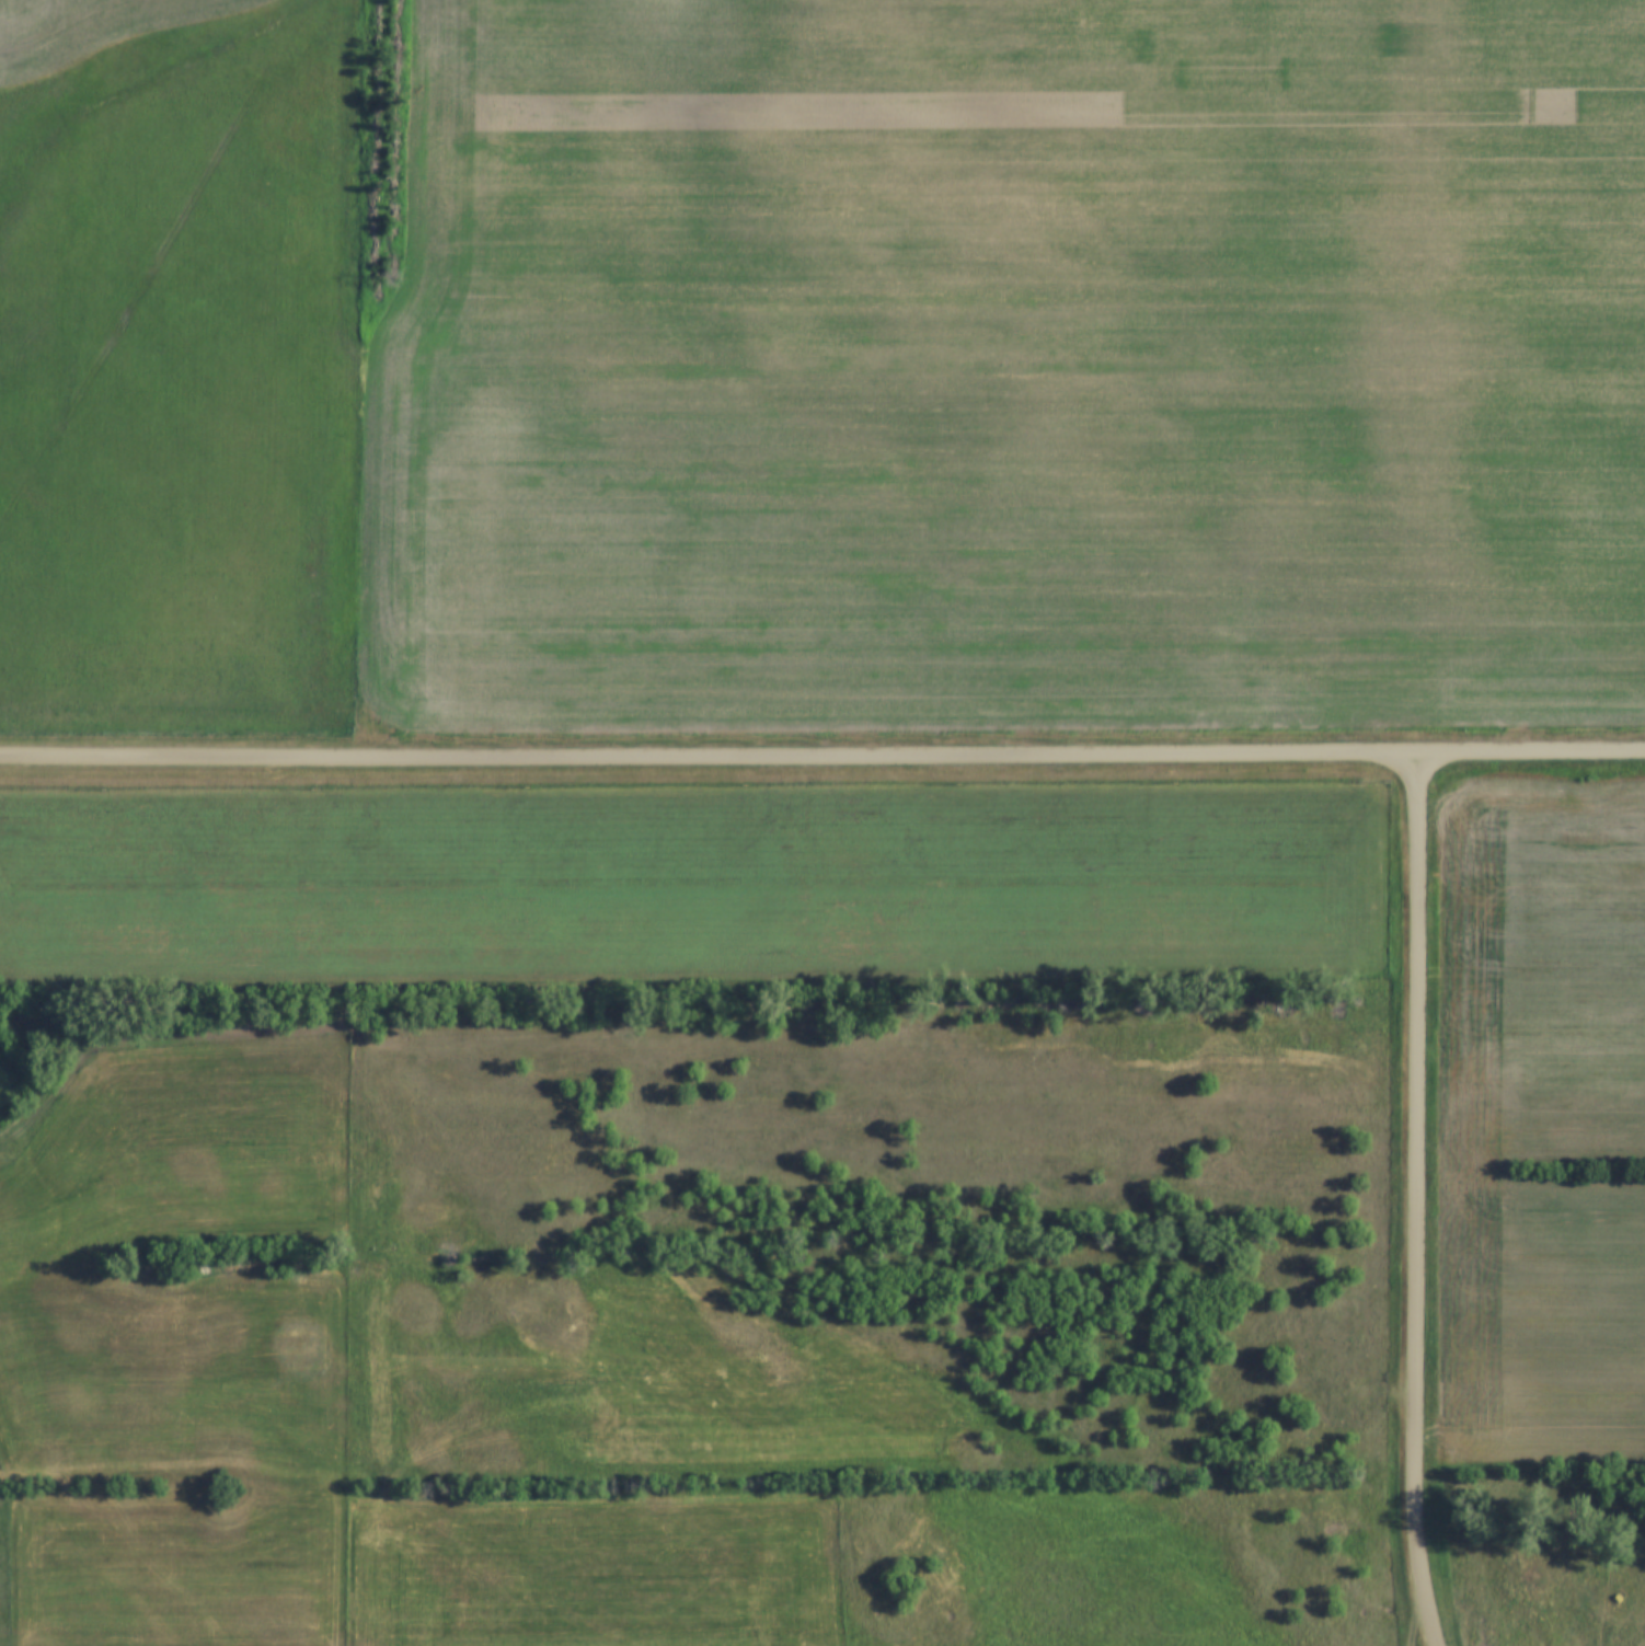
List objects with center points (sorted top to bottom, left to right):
road: (821, 757)
road: (1422, 1200)

